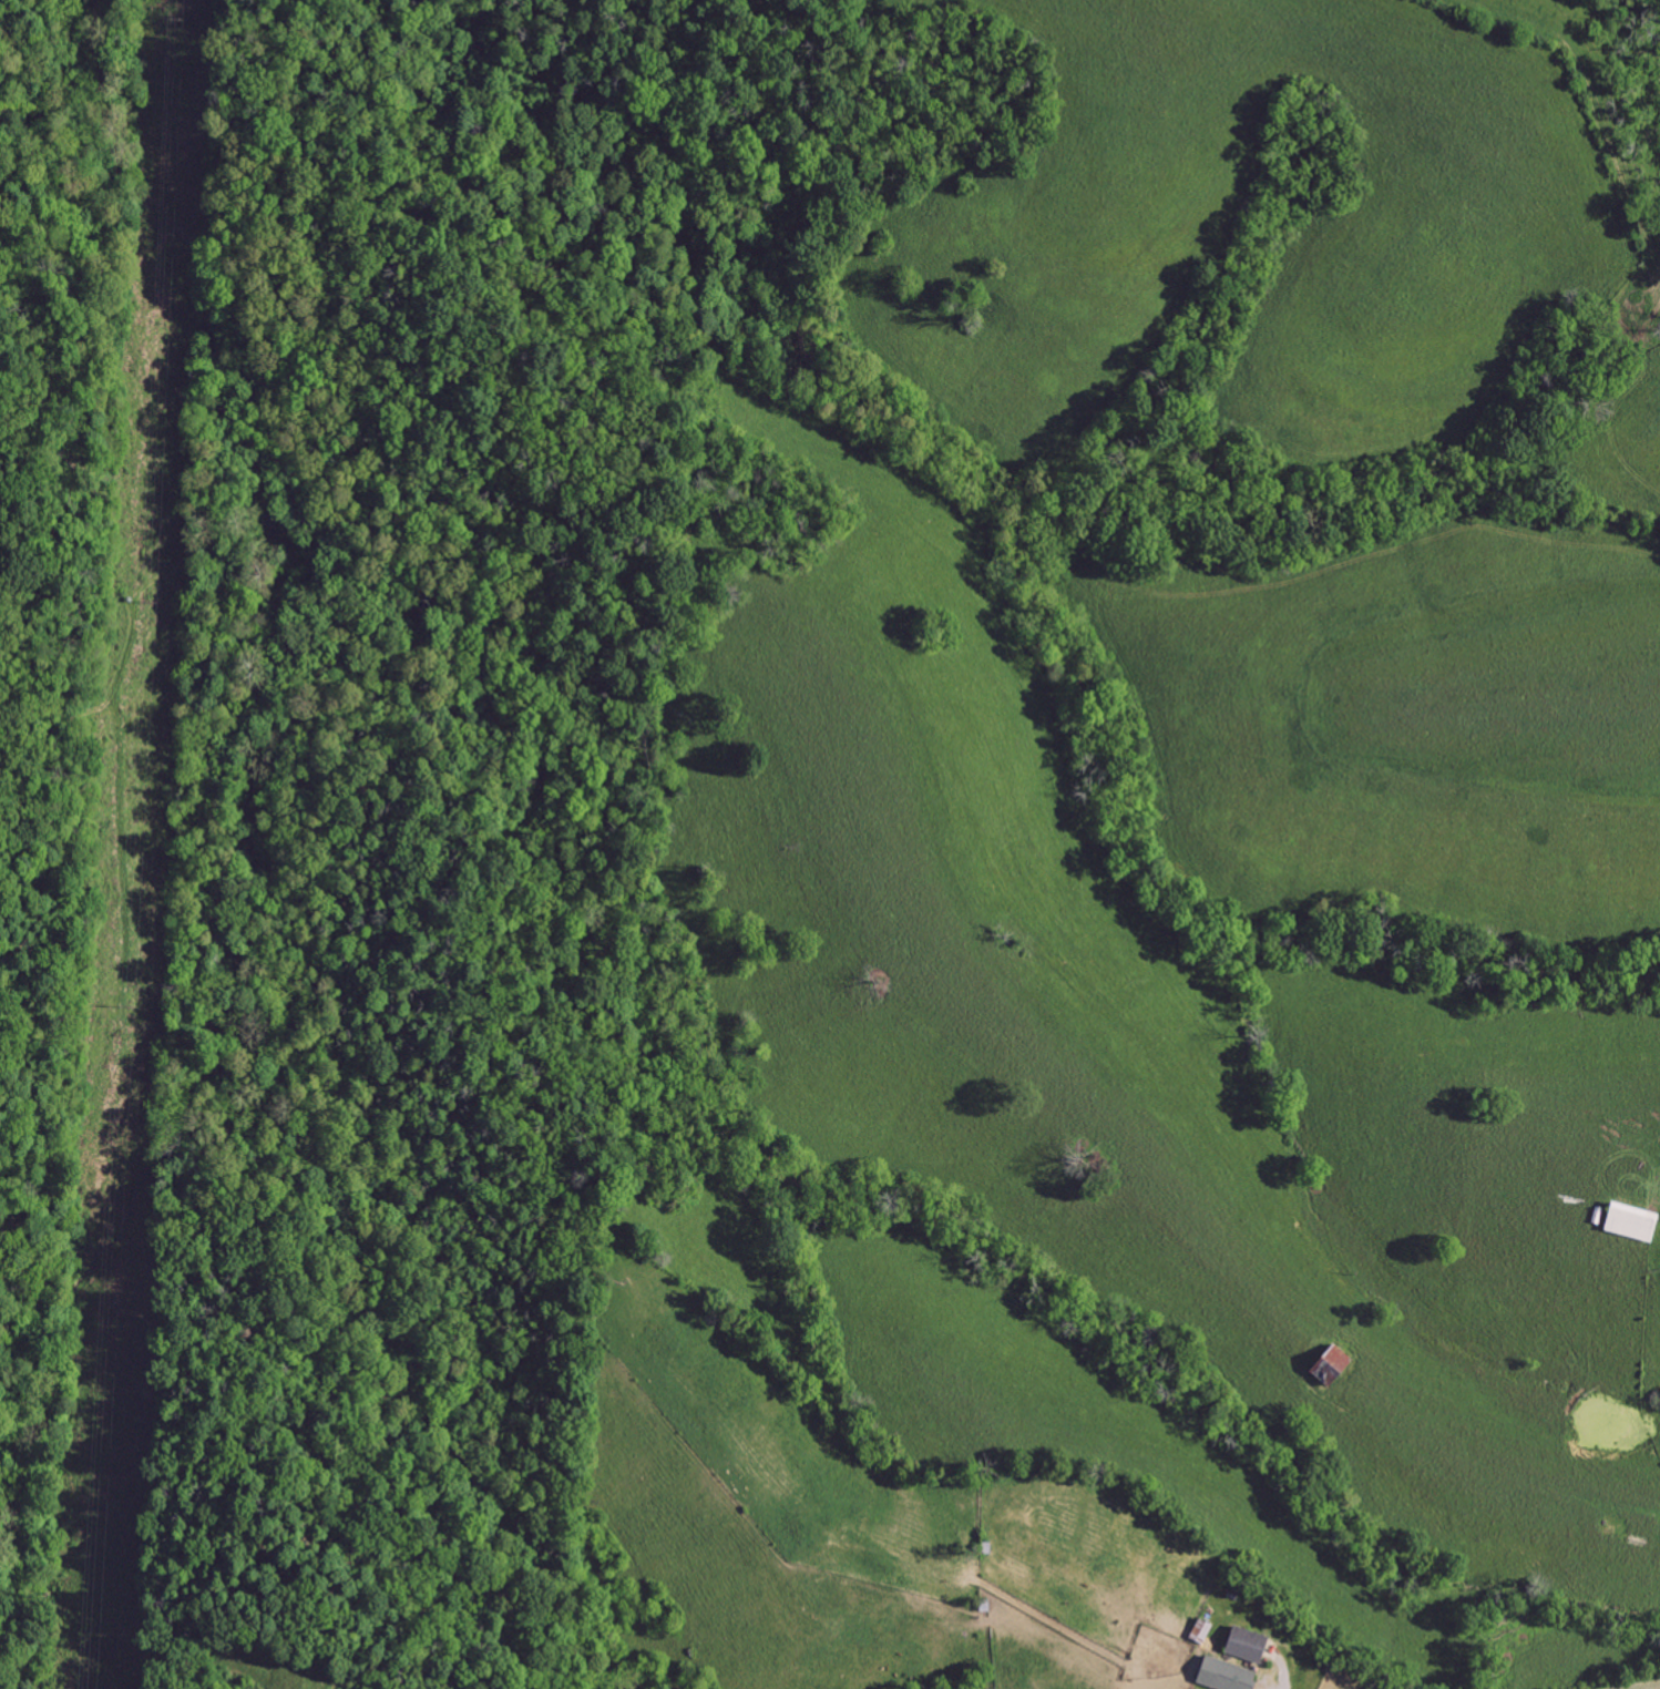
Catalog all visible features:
building: (1628, 1220)
building: (1324, 1363)
building: (1243, 1644)
building: (1222, 1673)

